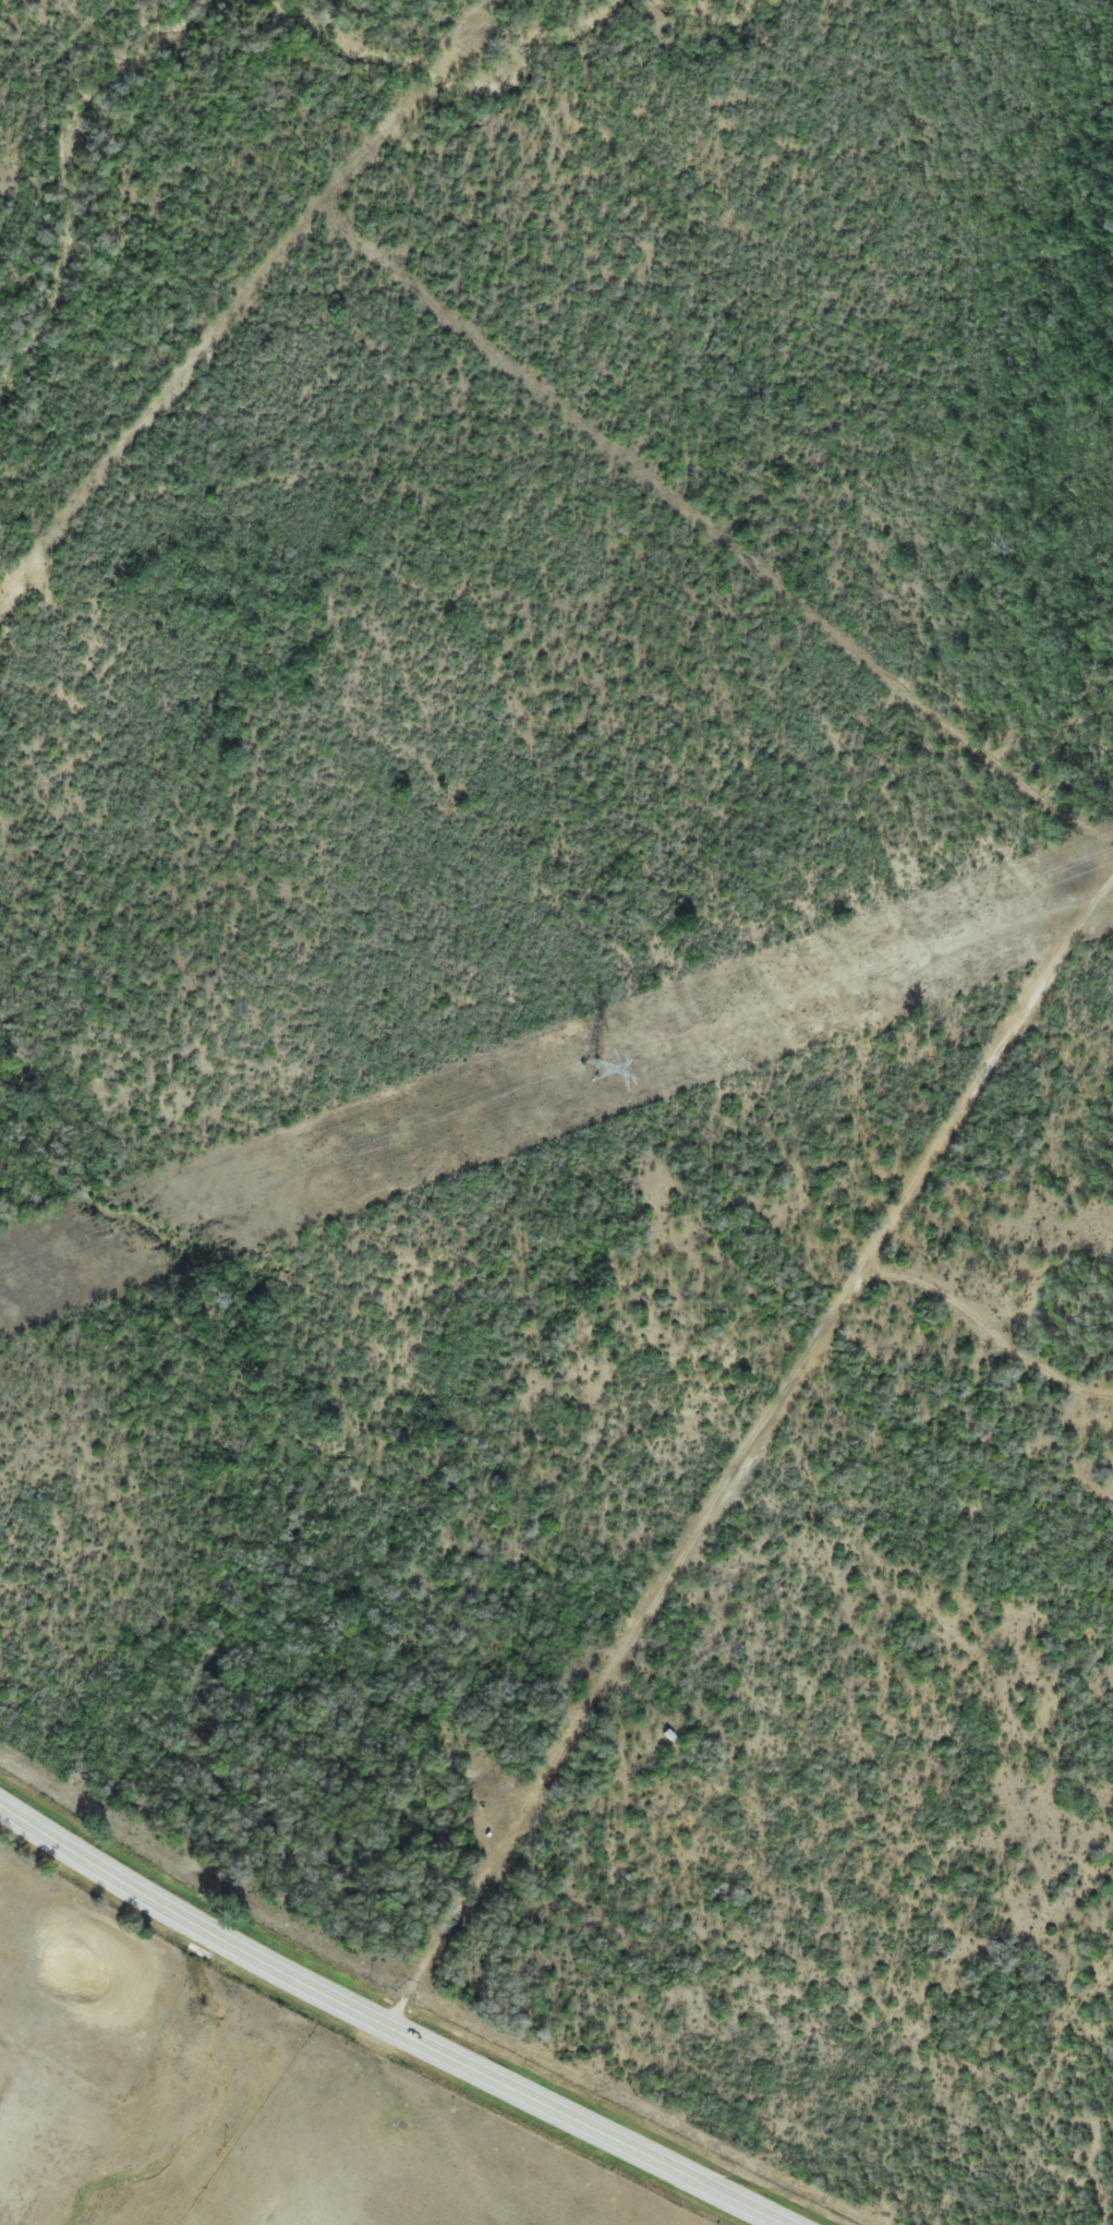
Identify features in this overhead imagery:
power tower: (592, 1068)
road: (394, 2021)

